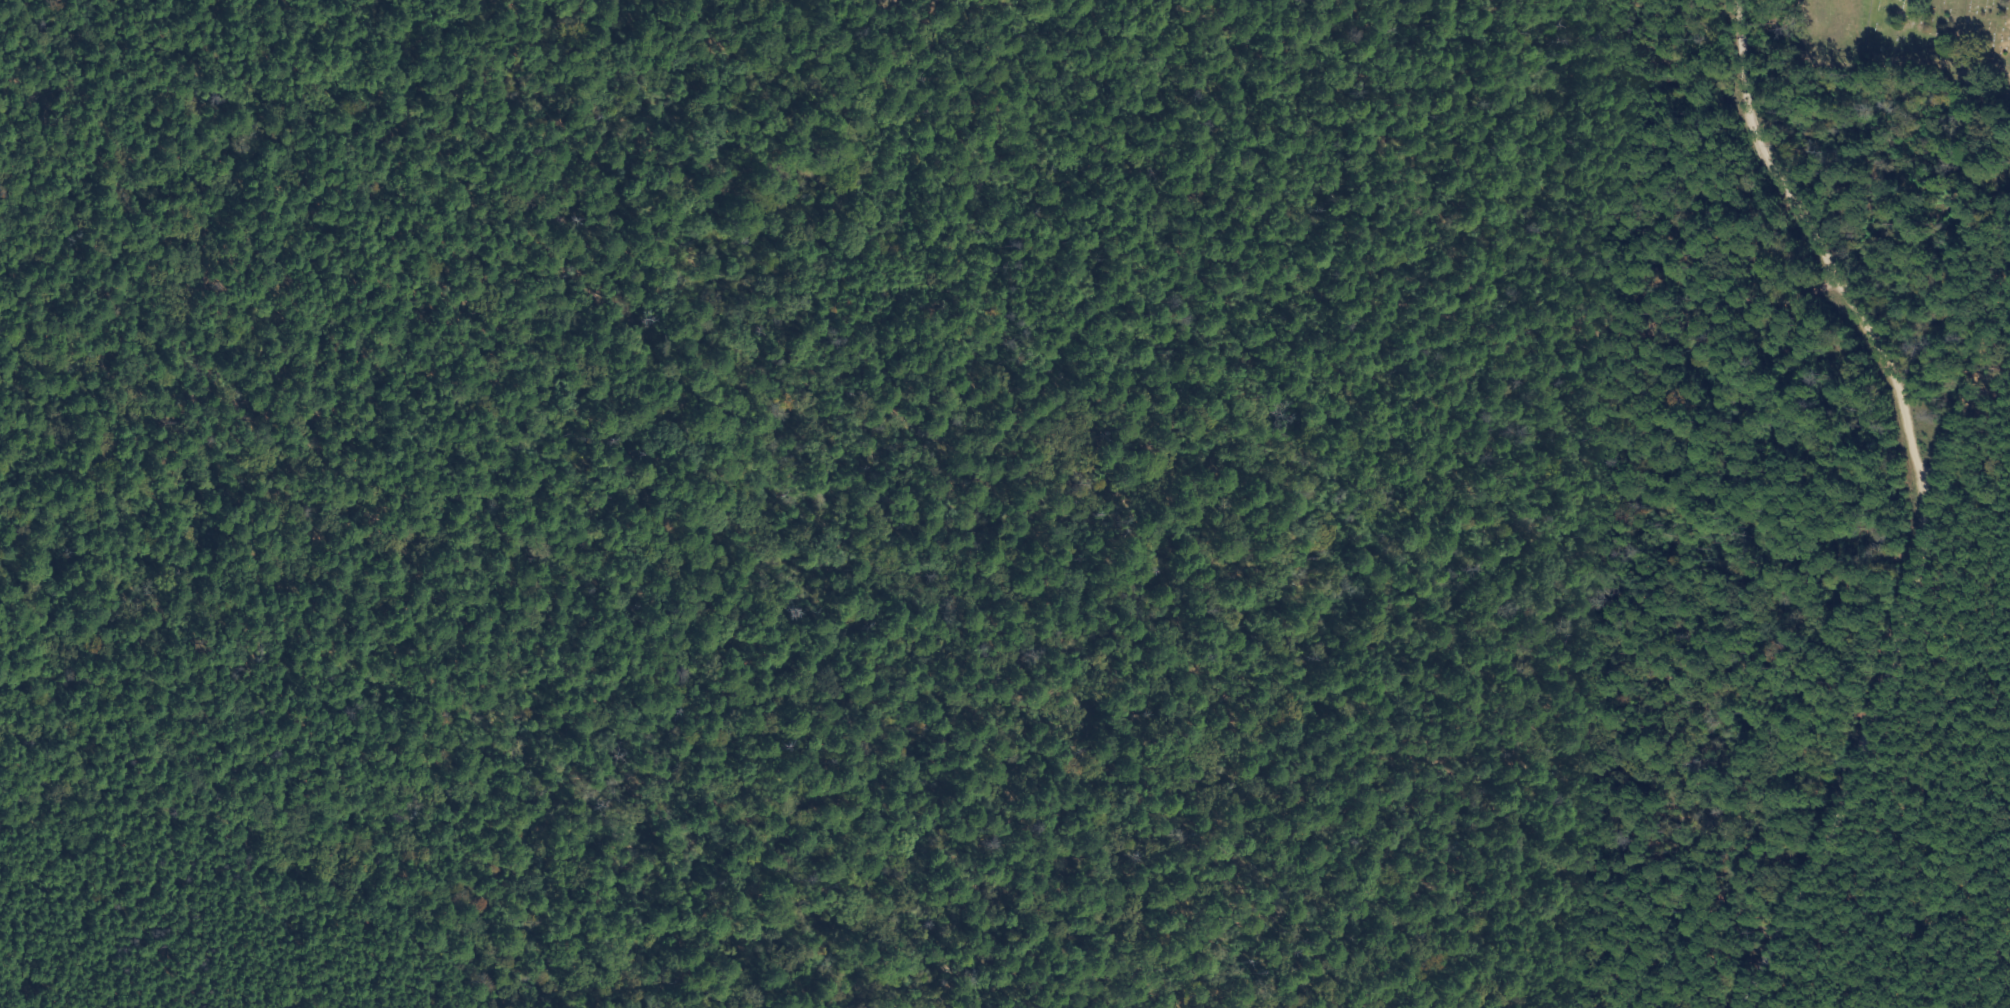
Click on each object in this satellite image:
park: (1942, 29)
road: (1907, 495)

